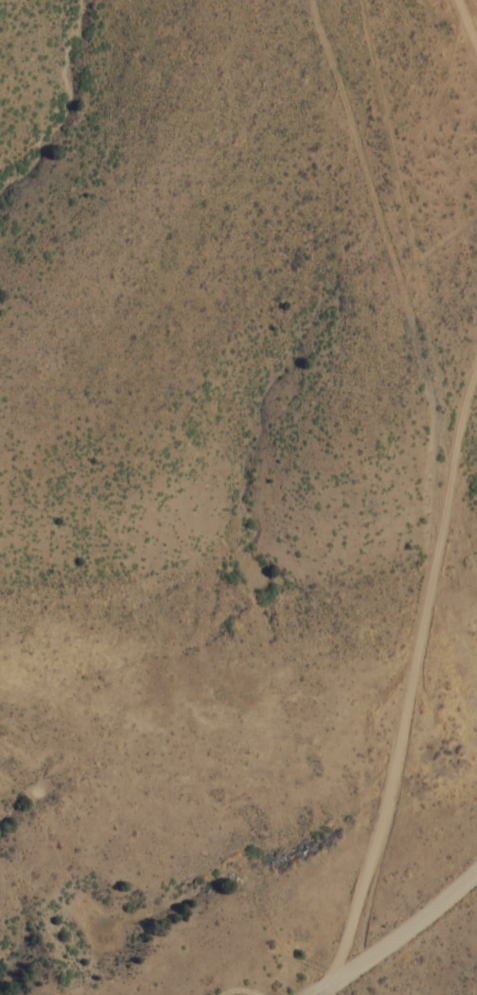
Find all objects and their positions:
road: (37, 931)
road: (396, 936)

